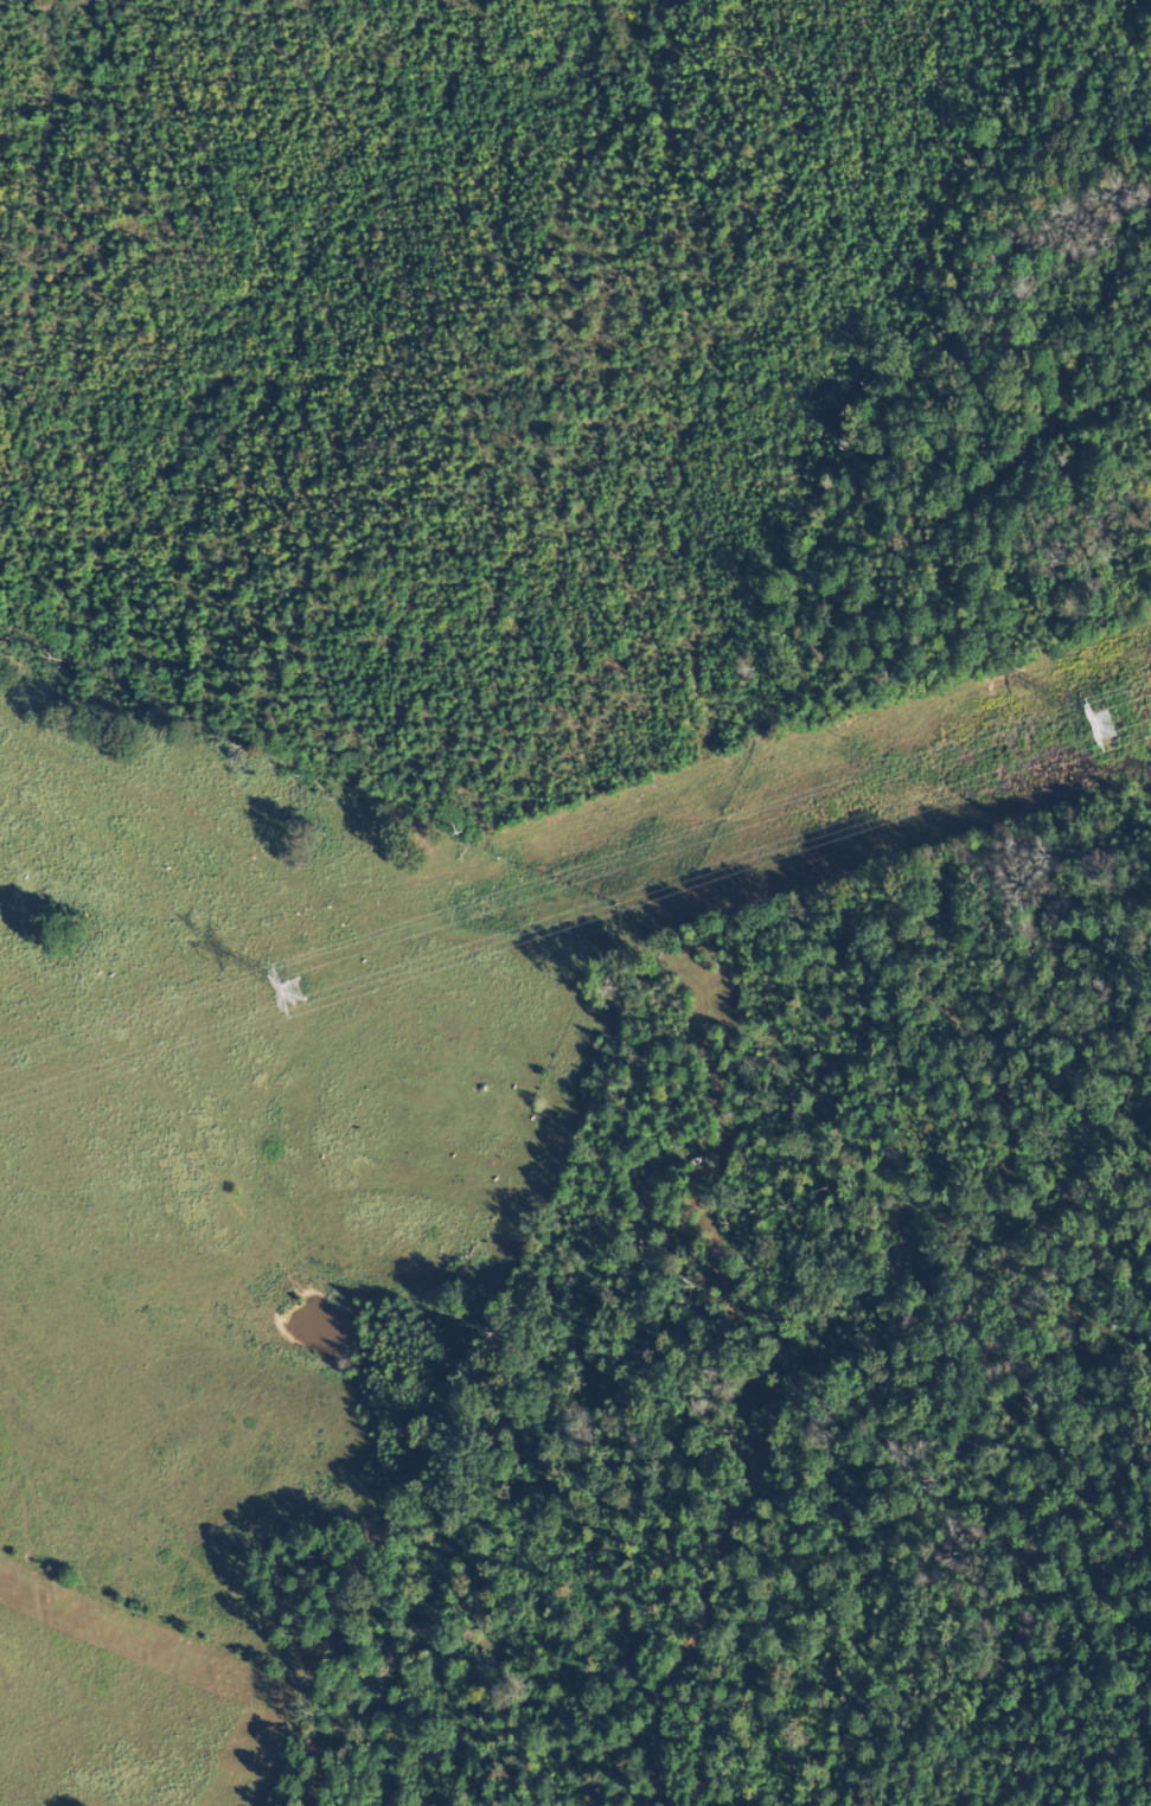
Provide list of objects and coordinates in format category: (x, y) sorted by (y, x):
power tower: (1111, 725)
power tower: (296, 991)

